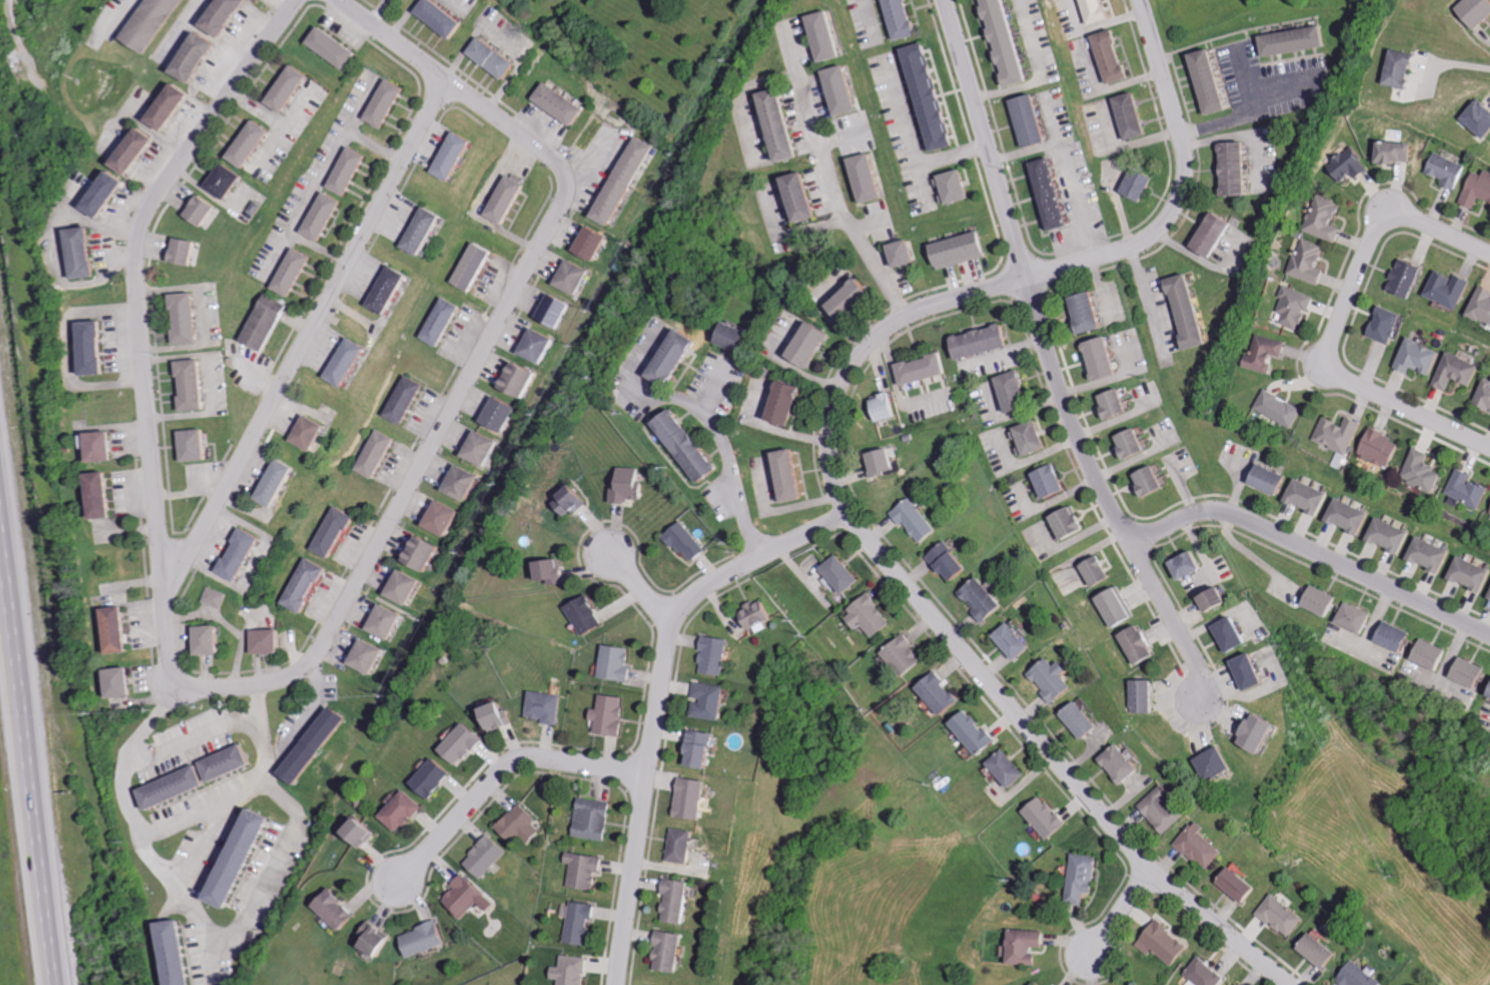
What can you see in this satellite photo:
building: (1098, 12)
building: (1479, 12)
building: (225, 16)
building: (440, 16)
road: (118, 18)
building: (904, 20)
building: (153, 21)
building: (829, 36)
building: (843, 39)
building: (1293, 39)
building: (1007, 40)
building: (331, 52)
building: (1110, 55)
building: (493, 56)
building: (195, 60)
road: (1458, 64)
building: (1405, 69)
road: (1041, 72)
building: (1212, 78)
road: (235, 82)
building: (845, 90)
building: (285, 92)
building: (859, 94)
building: (929, 95)
building: (386, 101)
road: (748, 101)
building: (558, 102)
building: (169, 107)
road: (1241, 113)
building: (1129, 115)
building: (1031, 117)
building: (1482, 118)
building: (784, 125)
building: (799, 129)
building: (246, 146)
building: (1399, 152)
building: (135, 153)
building: (454, 157)
building: (1353, 165)
road: (1071, 168)
building: (1236, 168)
building: (348, 169)
building: (1450, 170)
building: (623, 177)
road: (831, 177)
building: (870, 178)
building: (884, 181)
building: (223, 182)
building: (953, 183)
building: (1137, 185)
road: (1184, 185)
building: (1478, 190)
building: (1050, 192)
building: (104, 193)
building: (805, 196)
building: (505, 200)
building: (822, 203)
building: (200, 212)
building: (323, 214)
building: (1327, 219)
building: (422, 229)
road: (1377, 232)
building: (1214, 238)
building: (591, 243)
building: (961, 247)
building: (185, 250)
building: (902, 250)
building: (82, 253)
building: (1312, 262)
building: (474, 266)
building: (293, 270)
building: (570, 275)
building: (1410, 279)
road: (1145, 284)
building: (1453, 289)
building: (387, 290)
building: (855, 302)
building: (1483, 305)
building: (551, 307)
building: (1297, 308)
building: (1190, 310)
building: (1089, 313)
building: (187, 319)
building: (265, 322)
building: (442, 322)
building: (1391, 325)
road: (307, 335)
building: (736, 335)
building: (970, 341)
building: (534, 342)
building: (809, 345)
building: (92, 347)
road: (486, 347)
road: (71, 350)
building: (1268, 353)
building: (672, 355)
building: (1424, 357)
road: (1051, 358)
building: (1104, 358)
building: (346, 364)
building: (913, 368)
building: (1461, 371)
building: (514, 376)
building: (193, 384)
building: (1004, 391)
building: (1019, 392)
building: (1486, 396)
building: (406, 401)
building: (785, 403)
building: (1104, 403)
building: (1119, 405)
road: (1407, 405)
building: (891, 407)
building: (1281, 409)
building: (497, 411)
road: (149, 428)
building: (308, 433)
building: (1340, 433)
building: (1022, 437)
building: (1036, 438)
road: (726, 443)
building: (1122, 443)
building: (196, 444)
building: (479, 445)
building: (1137, 445)
building: (687, 446)
building: (1383, 448)
building: (103, 449)
building: (378, 455)
building: (885, 463)
building: (1423, 472)
building: (788, 476)
building: (1044, 480)
building: (1140, 480)
building: (1274, 480)
building: (460, 481)
building: (1057, 482)
building: (1155, 482)
building: (283, 484)
building: (628, 484)
building: (272, 486)
building: (1468, 490)
building: (102, 497)
building: (1311, 497)
building: (570, 498)
building: (440, 516)
building: (1353, 517)
building: (917, 520)
building: (1061, 521)
building: (1074, 523)
building: (335, 532)
building: (1393, 536)
building: (684, 537)
road: (1313, 549)
building: (420, 554)
building: (239, 555)
building: (1434, 555)
building: (953, 563)
building: (1194, 567)
building: (1090, 570)
building: (1102, 571)
building: (549, 572)
building: (833, 573)
building: (1473, 574)
road: (639, 582)
building: (305, 584)
building: (403, 586)
building: (213, 596)
building: (974, 598)
building: (1222, 600)
building: (1325, 601)
building: (1107, 607)
building: (1120, 608)
building: (582, 614)
building: (862, 615)
building: (755, 617)
building: (384, 618)
building: (1358, 618)
road: (943, 623)
building: (117, 630)
building: (1238, 635)
building: (1397, 637)
building: (1005, 640)
building: (209, 641)
building: (1017, 642)
building: (265, 643)
building: (1131, 643)
building: (713, 650)
building: (365, 653)
building: (897, 654)
building: (1433, 655)
building: (615, 660)
building: (1257, 672)
building: (1471, 673)
building: (1055, 680)
building: (122, 686)
building: (931, 692)
building: (1146, 696)
building: (705, 697)
road: (658, 698)
building: (545, 703)
road: (315, 707)
building: (609, 711)
building: (495, 716)
building: (1084, 721)
building: (964, 731)
building: (1266, 734)
road: (192, 739)
building: (460, 740)
building: (700, 747)
building: (311, 748)
building: (1124, 764)
building: (227, 765)
building: (1219, 765)
road: (26, 767)
road: (502, 767)
building: (1000, 768)
building: (429, 775)
building: (173, 788)
building: (689, 792)
building: (400, 806)
building: (1157, 809)
building: (595, 815)
building: (516, 817)
building: (1039, 817)
road: (172, 824)
building: (359, 832)
building: (679, 842)
building: (1203, 846)
road: (198, 850)
building: (485, 852)
building: (240, 856)
building: (585, 864)
building: (1084, 877)
building: (1242, 884)
building: (464, 893)
building: (674, 900)
road: (1122, 908)
building: (335, 910)
building: (1284, 915)
building: (579, 916)
road: (245, 926)
building: (425, 937)
building: (375, 940)
building: (1166, 942)
building: (1027, 945)
building: (666, 949)
building: (1323, 950)
building: (175, 954)
building: (571, 967)
building: (1208, 973)
building: (1362, 976)
building: (1038, 984)
building: (1241, 984)

